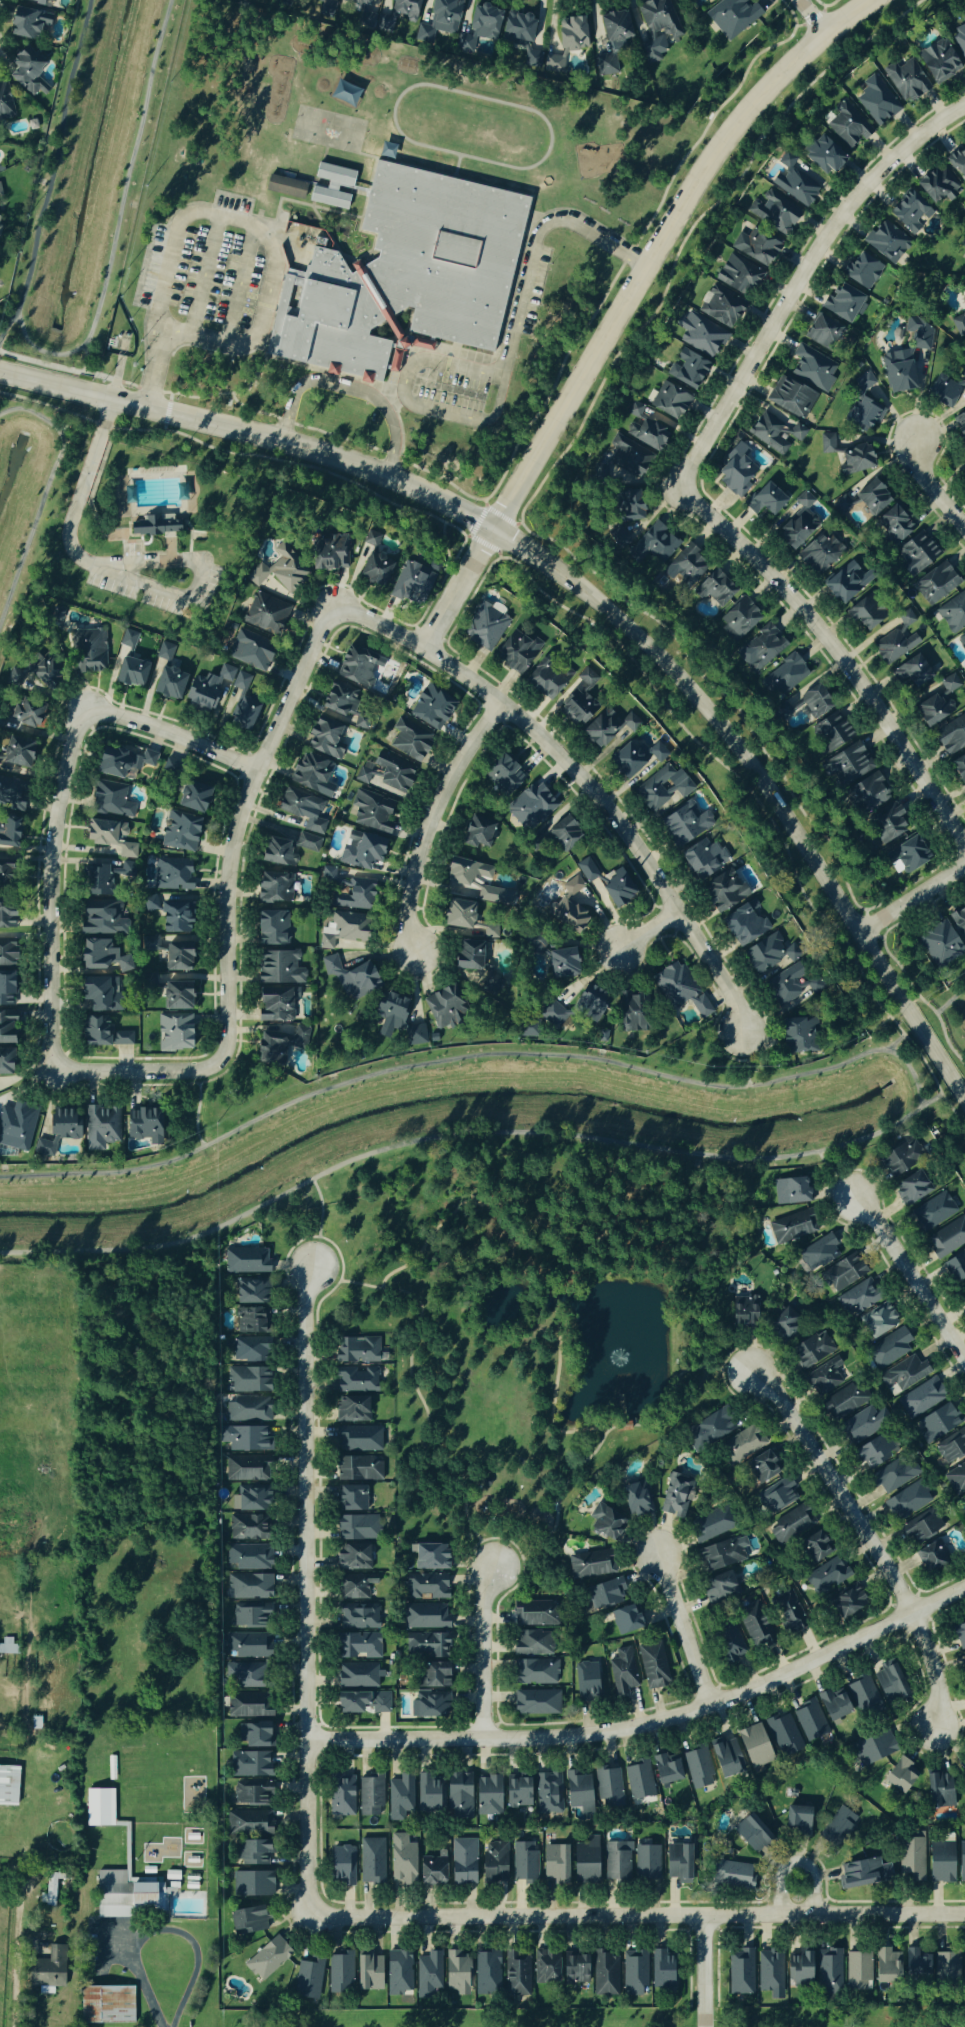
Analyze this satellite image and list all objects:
building: (677, 0)
building: (692, 0)
building: (39, 2)
building: (357, 2)
building: (326, 11)
building: (397, 15)
road: (816, 15)
building: (733, 16)
building: (439, 18)
building: (366, 21)
building: (25, 22)
building: (479, 27)
building: (517, 28)
building: (615, 28)
building: (657, 28)
building: (570, 34)
building: (960, 37)
building: (533, 61)
building: (938, 62)
building: (553, 64)
building: (606, 66)
building: (26, 72)
building: (906, 80)
building: (343, 94)
building: (877, 101)
building: (5, 102)
building: (848, 125)
building: (823, 155)
building: (959, 164)
road: (50, 171)
road: (124, 182)
building: (794, 182)
building: (331, 186)
building: (937, 186)
building: (284, 187)
building: (0, 193)
building: (774, 213)
building: (910, 213)
building: (1, 220)
building: (1, 228)
road: (660, 239)
building: (885, 241)
building: (963, 244)
building: (755, 247)
building: (963, 262)
road: (165, 268)
building: (863, 272)
building: (737, 275)
road: (797, 275)
building: (400, 276)
road: (266, 292)
building: (963, 301)
building: (841, 303)
building: (721, 308)
building: (959, 324)
building: (821, 332)
building: (919, 333)
building: (700, 335)
road: (203, 341)
building: (812, 367)
building: (687, 370)
road: (503, 372)
building: (897, 375)
building: (864, 382)
building: (946, 389)
road: (349, 390)
building: (790, 398)
building: (669, 402)
building: (636, 407)
building: (864, 415)
road: (67, 422)
building: (960, 426)
road: (107, 428)
building: (774, 434)
building: (646, 436)
building: (827, 444)
building: (855, 461)
building: (625, 464)
building: (735, 473)
building: (964, 474)
road: (930, 490)
road: (42, 493)
building: (871, 498)
building: (804, 500)
building: (765, 501)
building: (841, 504)
building: (626, 507)
building: (894, 524)
park: (151, 525)
building: (154, 527)
building: (793, 533)
road: (70, 535)
building: (117, 535)
building: (621, 536)
building: (657, 544)
building: (365, 550)
building: (916, 553)
building: (329, 554)
building: (819, 554)
road: (168, 561)
building: (686, 568)
building: (374, 571)
building: (276, 575)
building: (847, 582)
building: (411, 583)
building: (939, 583)
road: (458, 585)
building: (714, 589)
road: (590, 592)
building: (953, 613)
building: (263, 614)
building: (863, 615)
building: (739, 618)
building: (484, 628)
building: (128, 639)
building: (896, 640)
building: (961, 641)
building: (760, 649)
building: (248, 651)
building: (89, 652)
building: (517, 653)
road: (835, 657)
building: (357, 668)
building: (130, 673)
building: (911, 673)
building: (29, 675)
building: (168, 675)
building: (587, 678)
building: (783, 678)
building: (548, 681)
building: (950, 684)
building: (214, 689)
building: (814, 702)
building: (341, 704)
building: (431, 708)
building: (576, 709)
building: (931, 711)
building: (242, 714)
building: (18, 718)
building: (630, 723)
building: (600, 729)
building: (830, 733)
road: (171, 737)
building: (951, 737)
building: (323, 739)
building: (409, 740)
building: (15, 753)
building: (634, 759)
building: (121, 764)
building: (848, 764)
building: (959, 770)
building: (308, 773)
building: (388, 774)
building: (503, 774)
road: (579, 781)
building: (662, 787)
building: (11, 793)
building: (868, 794)
building: (189, 796)
building: (110, 800)
building: (531, 806)
building: (303, 810)
building: (372, 811)
road: (428, 820)
building: (684, 825)
building: (886, 826)
building: (8, 829)
building: (478, 831)
building: (562, 831)
building: (180, 832)
building: (109, 838)
building: (308, 843)
building: (361, 850)
building: (278, 851)
building: (906, 855)
building: (699, 860)
building: (3, 869)
building: (587, 870)
building: (170, 874)
building: (328, 874)
building: (104, 877)
building: (456, 881)
building: (273, 886)
road: (52, 887)
building: (617, 887)
building: (724, 891)
building: (355, 895)
road: (913, 898)
building: (569, 907)
road: (223, 908)
building: (457, 914)
building: (6, 915)
building: (169, 915)
building: (101, 921)
building: (959, 921)
building: (744, 926)
building: (272, 928)
road: (648, 930)
building: (344, 932)
building: (939, 943)
building: (7, 953)
building: (767, 953)
building: (102, 955)
building: (467, 955)
building: (561, 961)
building: (279, 968)
building: (351, 978)
building: (790, 985)
building: (5, 987)
building: (681, 990)
building: (99, 993)
building: (176, 996)
road: (950, 999)
building: (589, 1003)
building: (274, 1004)
building: (443, 1006)
building: (390, 1010)
building: (629, 1012)
building: (553, 1016)
building: (6, 1027)
building: (174, 1032)
building: (101, 1033)
building: (415, 1034)
building: (797, 1035)
building: (600, 1036)
building: (277, 1045)
road: (892, 1045)
road: (471, 1058)
building: (4, 1061)
road: (745, 1062)
road: (196, 1110)
building: (144, 1125)
building: (16, 1127)
building: (100, 1127)
building: (57, 1131)
road: (466, 1136)
building: (899, 1157)
road: (833, 1173)
building: (912, 1187)
building: (790, 1191)
building: (933, 1212)
road: (319, 1223)
building: (789, 1228)
building: (947, 1238)
building: (819, 1253)
building: (245, 1260)
building: (955, 1266)
building: (842, 1273)
road: (908, 1280)
building: (248, 1291)
building: (963, 1291)
building: (857, 1299)
park: (525, 1311)
building: (742, 1312)
building: (248, 1320)
building: (879, 1320)
building: (783, 1324)
building: (246, 1349)
building: (811, 1349)
building: (889, 1349)
building: (356, 1350)
building: (904, 1375)
building: (824, 1378)
building: (246, 1380)
building: (357, 1380)
building: (921, 1398)
building: (845, 1402)
building: (352, 1409)
building: (247, 1410)
building: (938, 1421)
building: (862, 1424)
building: (709, 1431)
building: (245, 1439)
building: (358, 1439)
building: (741, 1445)
building: (952, 1448)
building: (871, 1452)
building: (761, 1468)
building: (243, 1469)
building: (358, 1469)
building: (895, 1475)
building: (956, 1478)
building: (676, 1497)
building: (776, 1497)
building: (250, 1498)
building: (351, 1499)
building: (636, 1500)
building: (908, 1501)
building: (604, 1523)
building: (708, 1525)
building: (789, 1525)
building: (921, 1527)
building: (245, 1528)
building: (356, 1528)
road: (861, 1538)
building: (812, 1549)
building: (722, 1553)
building: (931, 1556)
building: (352, 1557)
building: (430, 1557)
building: (248, 1558)
building: (590, 1565)
building: (828, 1575)
building: (248, 1586)
building: (355, 1586)
building: (425, 1587)
building: (718, 1588)
road: (305, 1594)
building: (605, 1594)
building: (844, 1602)
building: (785, 1612)
building: (533, 1614)
building: (249, 1616)
building: (424, 1616)
building: (357, 1617)
building: (625, 1619)
road: (682, 1627)
building: (753, 1628)
building: (960, 1635)
building: (730, 1643)
building: (532, 1644)
building: (248, 1646)
building: (358, 1646)
building: (425, 1646)
road: (483, 1651)
building: (964, 1660)
building: (652, 1665)
building: (534, 1672)
building: (621, 1672)
building: (244, 1675)
building: (357, 1675)
building: (431, 1675)
building: (587, 1681)
building: (885, 1684)
building: (861, 1696)
building: (361, 1703)
building: (536, 1703)
building: (832, 1705)
building: (246, 1706)
building: (427, 1706)
building: (809, 1720)
building: (37, 1722)
road: (649, 1724)
building: (782, 1732)
building: (256, 1735)
building: (753, 1746)
building: (875, 1747)
building: (725, 1757)
building: (250, 1765)
building: (112, 1767)
building: (698, 1768)
building: (665, 1769)
building: (963, 1770)
building: (899, 1776)
building: (638, 1781)
building: (9, 1785)
building: (608, 1787)
building: (939, 1790)
building: (516, 1792)
building: (578, 1792)
building: (427, 1793)
building: (251, 1795)
building: (548, 1795)
building: (341, 1796)
building: (370, 1796)
building: (458, 1796)
building: (487, 1796)
building: (399, 1797)
building: (101, 1807)
building: (797, 1821)
building: (248, 1823)
building: (837, 1827)
building: (753, 1832)
building: (193, 1836)
building: (728, 1850)
building: (250, 1853)
building: (193, 1859)
road: (795, 1860)
building: (910, 1860)
building: (960, 1860)
building: (371, 1861)
building: (402, 1861)
building: (616, 1861)
building: (462, 1862)
building: (585, 1862)
building: (523, 1863)
building: (554, 1863)
building: (646, 1863)
building: (939, 1863)
building: (493, 1864)
building: (677, 1865)
building: (342, 1866)
building: (150, 1869)
building: (431, 1871)
building: (729, 1874)
building: (863, 1874)
building: (173, 1875)
building: (252, 1884)
building: (192, 1885)
building: (48, 1891)
building: (123, 1895)
road: (637, 1919)
building: (248, 1921)
road: (110, 1941)
road: (135, 1950)
building: (269, 1957)
building: (964, 1959)
building: (915, 1964)
building: (47, 1966)
building: (886, 1967)
building: (544, 1968)
building: (574, 1968)
building: (661, 1969)
building: (946, 1969)
building: (798, 1970)
building: (829, 1970)
building: (456, 1972)
building: (741, 1972)
building: (857, 1972)
building: (339, 1973)
building: (398, 1973)
building: (604, 1973)
road: (702, 1973)
building: (367, 1974)
building: (428, 1974)
building: (487, 1974)
building: (634, 1974)
building: (770, 1974)
building: (515, 1976)
building: (310, 1977)
road: (189, 1987)
road: (16, 1996)
building: (108, 2006)

